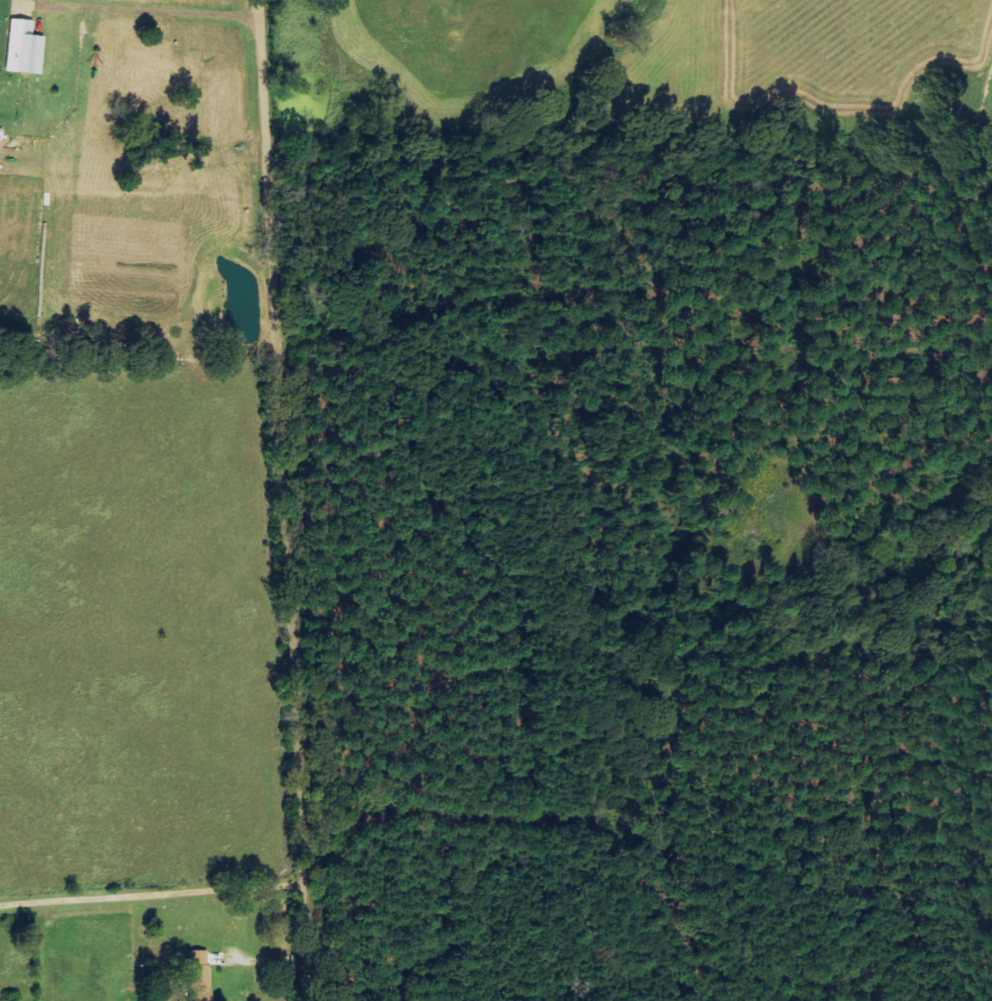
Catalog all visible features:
road: (149, 12)
building: (23, 49)
road: (287, 500)
building: (198, 974)

